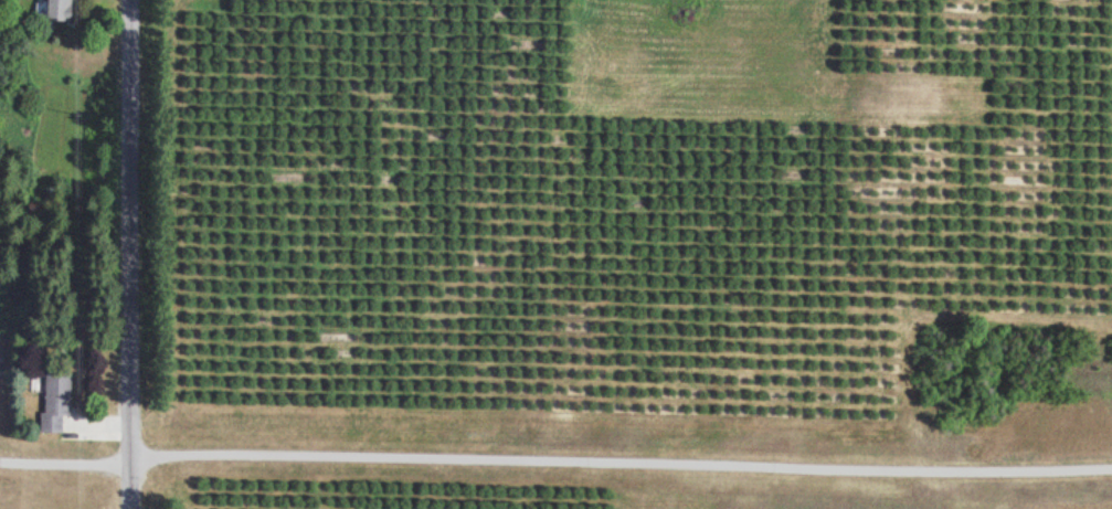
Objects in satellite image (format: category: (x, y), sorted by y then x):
building: (54, 10)
road: (131, 254)
building: (53, 400)

